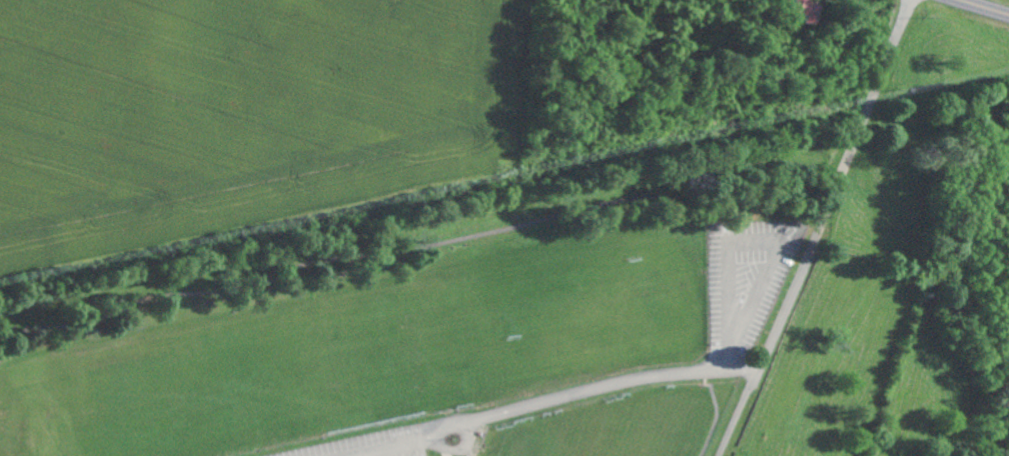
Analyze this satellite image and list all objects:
road: (982, 8)
building: (792, 9)
road: (820, 228)
park: (453, 345)

